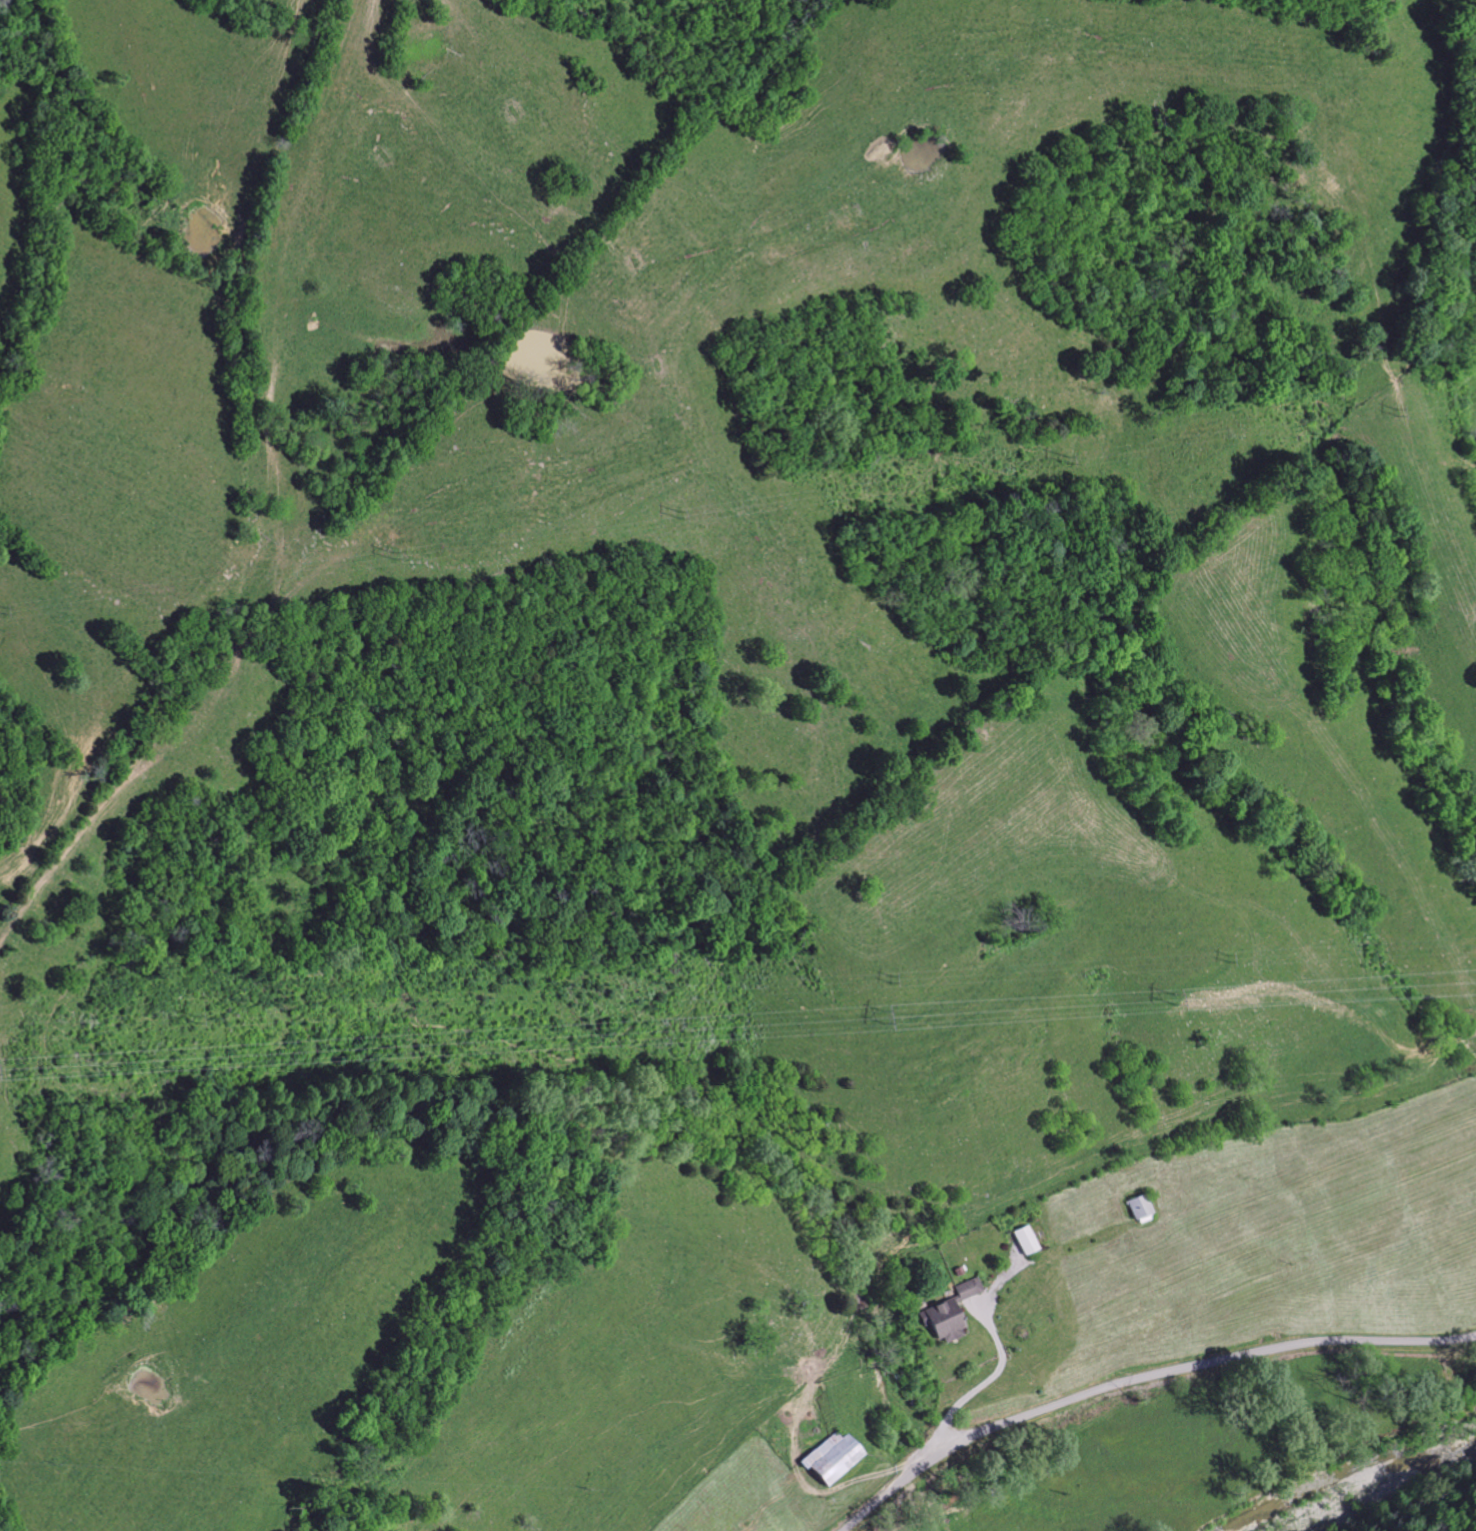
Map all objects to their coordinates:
power tower: (1394, 409)
power tower: (1065, 456)
power tower: (679, 513)
power tower: (390, 550)
power tower: (3, 604)
power tower: (1226, 955)
power tower: (889, 977)
power tower: (1171, 995)
power tower: (190, 1014)
power tower: (880, 1014)
building: (1141, 1209)
building: (1026, 1241)
building: (949, 1313)
road: (1143, 1379)
road: (977, 1385)
building: (831, 1459)
road: (1144, 1464)

